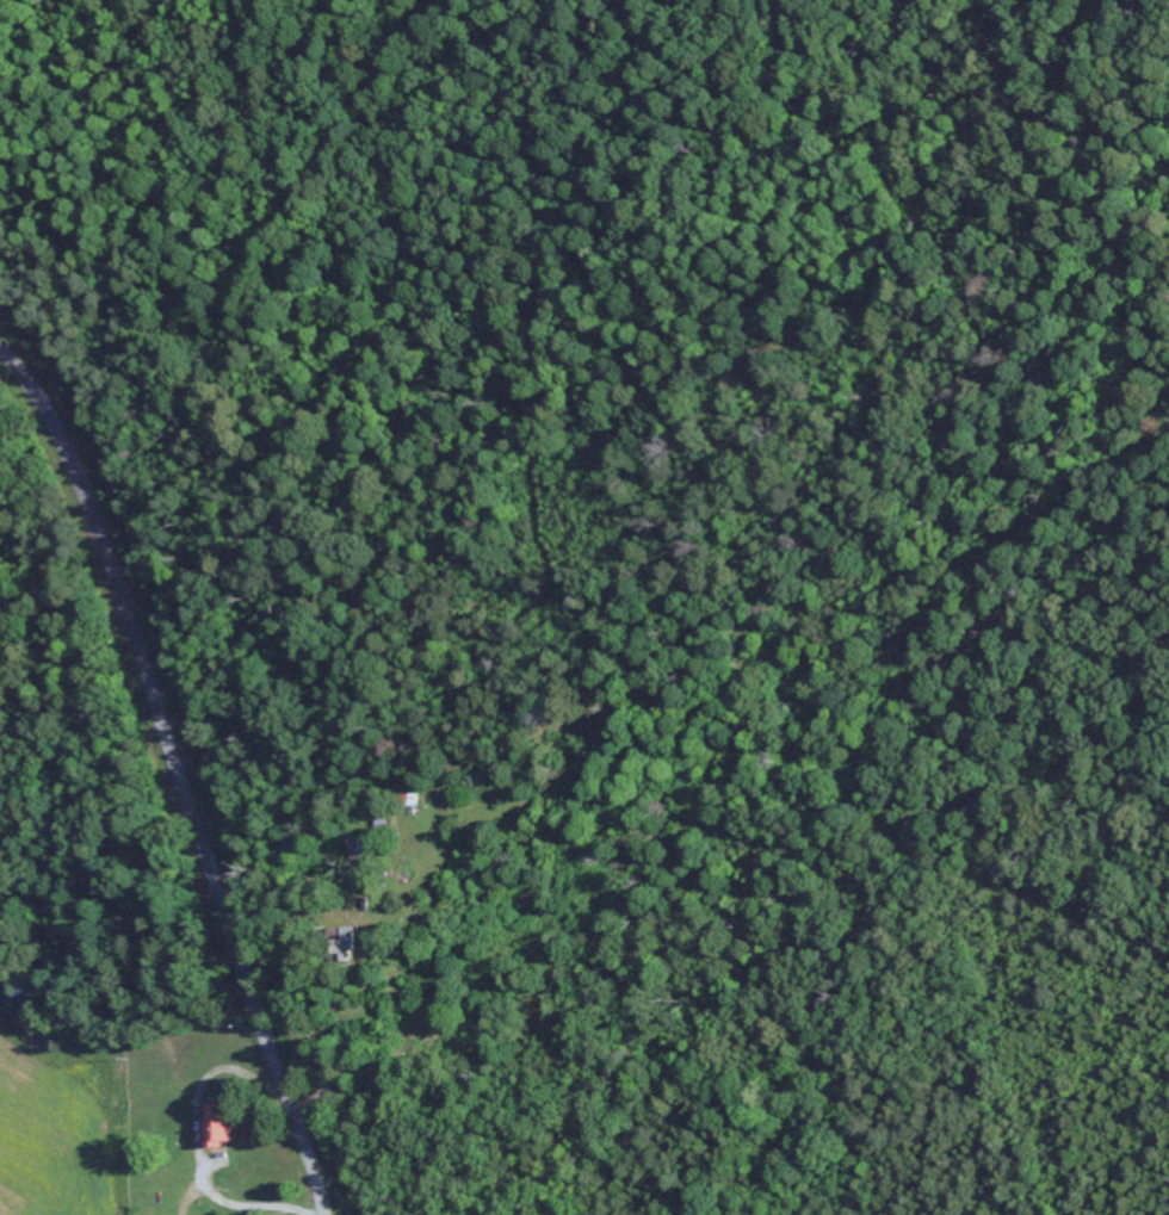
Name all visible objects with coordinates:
road: (178, 773)
building: (369, 847)
building: (347, 944)
building: (221, 1124)

